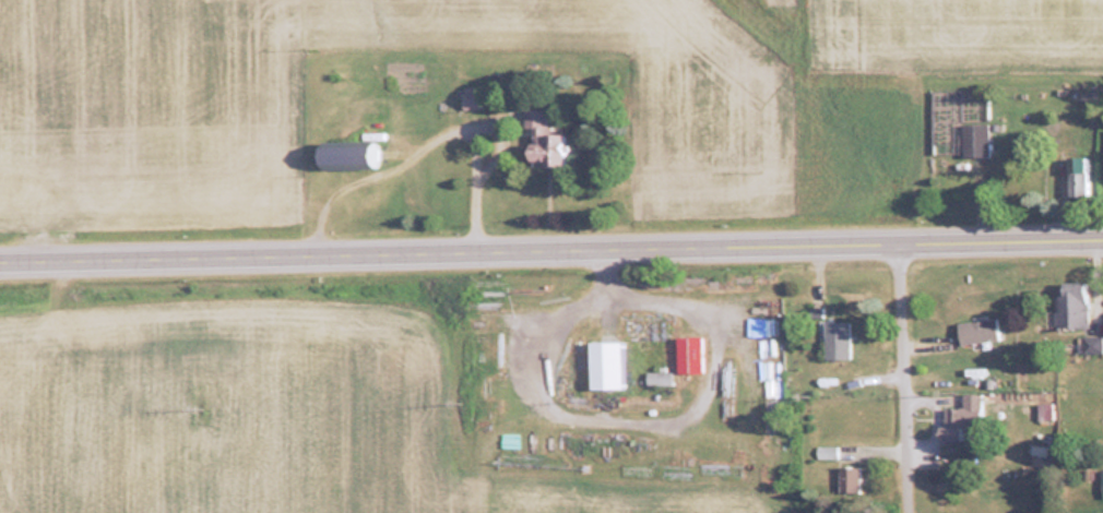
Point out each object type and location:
building: (542, 140)
building: (975, 140)
building: (345, 154)
building: (1078, 176)
road: (1003, 244)
road: (451, 256)
building: (1072, 305)
building: (815, 306)
building: (977, 330)
building: (835, 338)
building: (491, 350)
building: (604, 362)
building: (657, 377)
road: (906, 380)
building: (959, 417)
building: (1101, 481)

